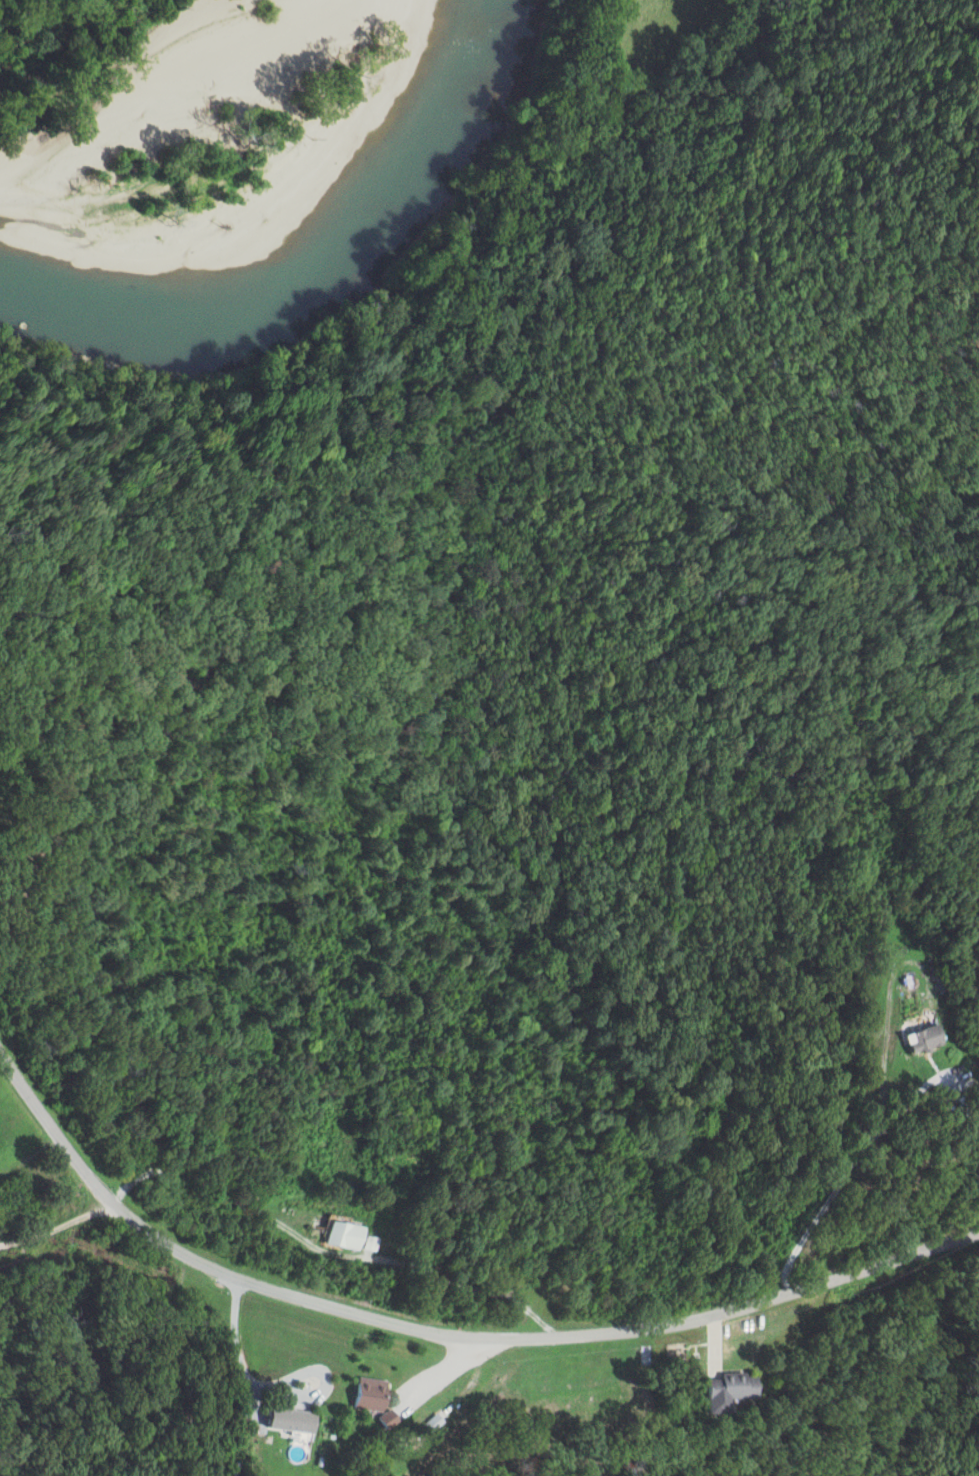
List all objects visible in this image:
river: (333, 271)
building: (915, 1039)
road: (875, 1105)
road: (54, 1226)
building: (351, 1237)
road: (319, 1255)
road: (445, 1336)
road: (234, 1358)
road: (445, 1373)
building: (724, 1391)
building: (369, 1393)
building: (294, 1419)
building: (388, 1419)

